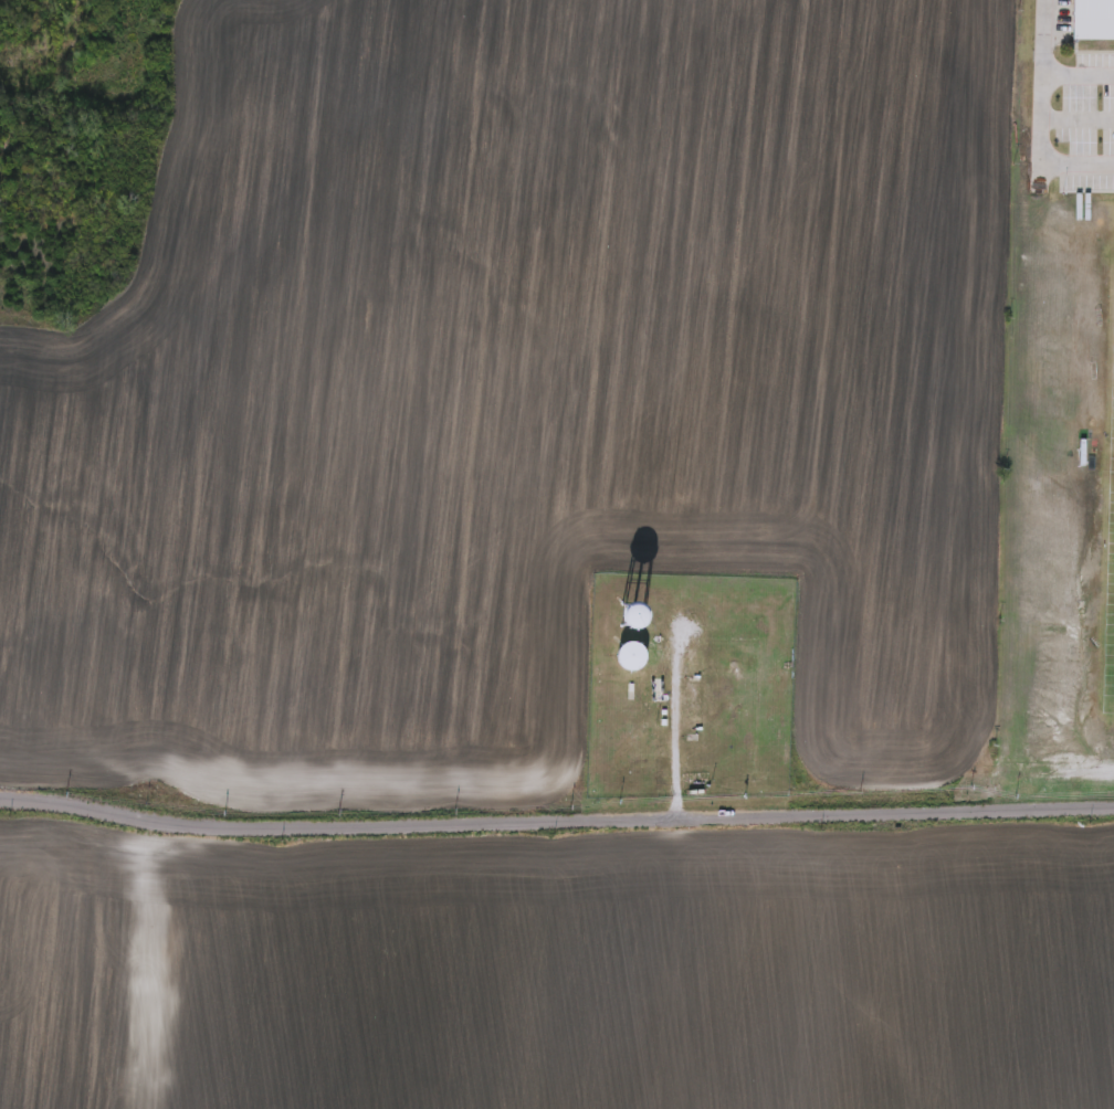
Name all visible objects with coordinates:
building: (1092, 21)
road: (1076, 78)
road: (1038, 123)
road: (1075, 124)
building: (629, 658)
road: (674, 736)
road: (556, 827)

